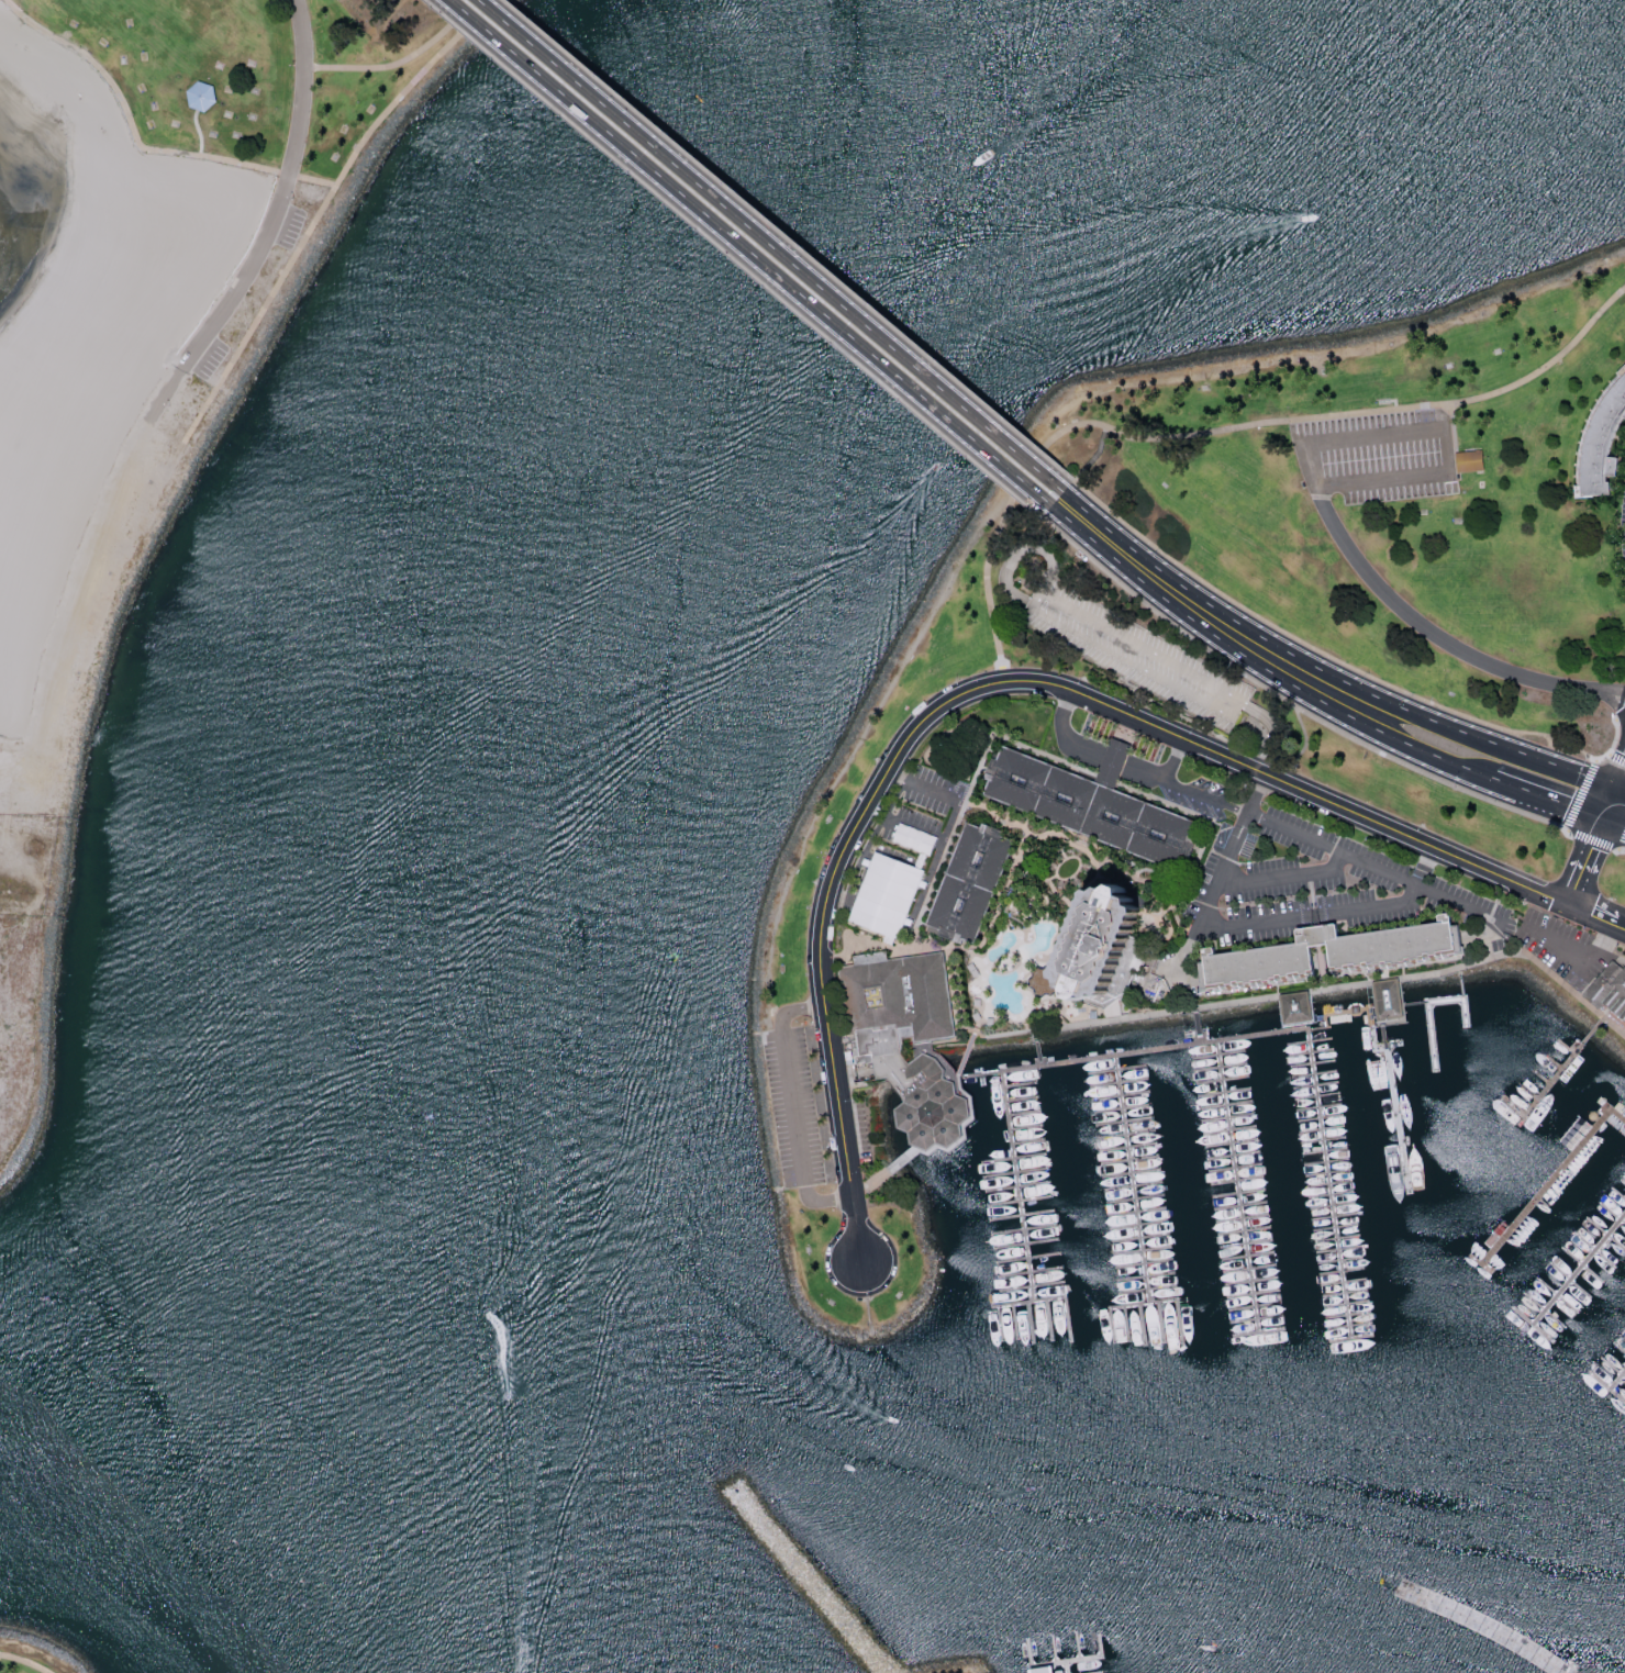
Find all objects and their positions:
road: (402, 63)
park: (263, 74)
road: (308, 87)
building: (199, 94)
road: (383, 116)
road: (132, 122)
road: (788, 239)
road: (773, 246)
road: (753, 254)
road: (739, 260)
road: (1437, 416)
road: (1224, 430)
building: (1601, 442)
road: (1444, 443)
parking lot: (1380, 458)
building: (1471, 461)
road: (123, 470)
park: (107, 471)
road: (1075, 481)
park: (1398, 493)
parking lot: (1623, 526)
road: (1413, 624)
road: (1257, 662)
road: (1340, 662)
road: (1323, 670)
road: (1178, 671)
road: (976, 691)
road: (1291, 704)
road: (1094, 755)
road: (1175, 762)
road: (1621, 777)
road: (919, 785)
traffic signals: (1616, 787)
road: (1621, 788)
road: (1255, 795)
road: (1545, 795)
road: (1207, 799)
building: (1094, 808)
road: (1576, 814)
road: (892, 816)
traffic signals: (1603, 817)
road: (1614, 821)
building: (914, 839)
road: (1590, 845)
road: (1622, 849)
road: (1283, 874)
building: (972, 883)
building: (887, 893)
road: (1461, 900)
road: (1345, 907)
road: (1595, 917)
building: (1117, 941)
building: (1384, 957)
road: (1579, 958)
building: (1609, 990)
road: (1188, 1008)
pier: (1197, 1025)
pier: (1288, 1029)
pier: (1035, 1047)
building: (880, 1048)
pier: (1557, 1079)
road: (794, 1104)
pier: (1133, 1178)
pier: (1550, 1179)
pier: (1017, 1184)
pier: (1237, 1185)
pier: (1579, 1270)
pier: (1029, 1300)
pier: (1142, 1303)
pier: (1618, 1382)
pier: (1451, 1635)
pier: (1078, 1644)
pier: (1054, 1648)
pier: (1028, 1652)
park: (33, 1654)
pier: (1073, 1659)
road: (25, 1662)
pier: (1066, 1666)
pier: (1050, 1668)
building: (1042, 1670)
pier: (1098, 1672)

